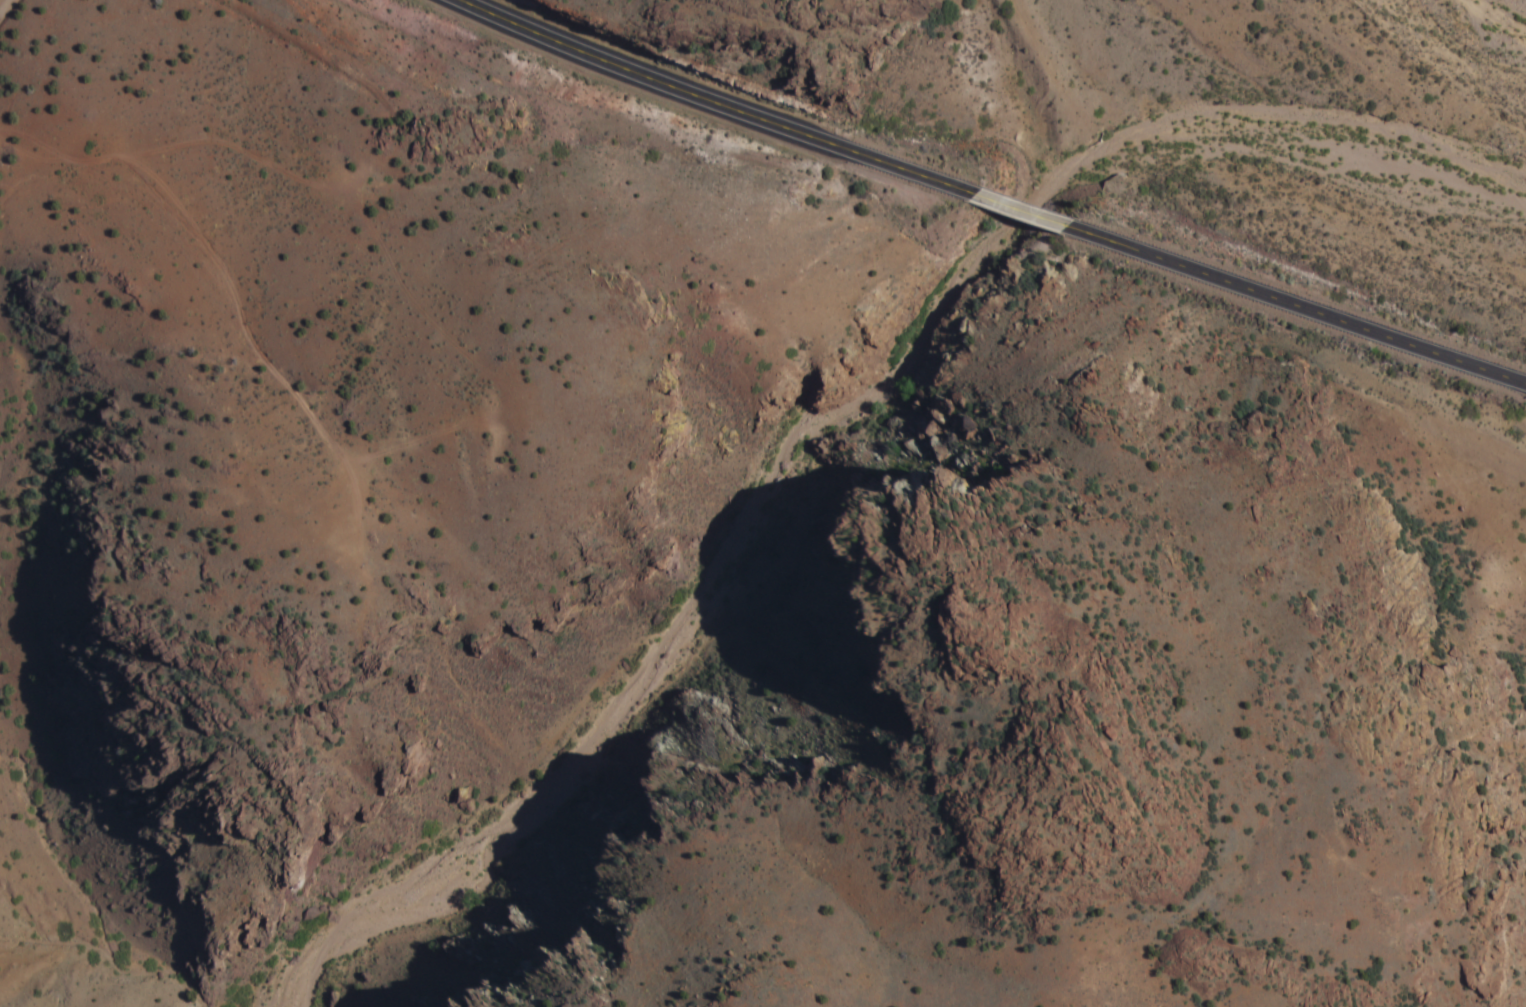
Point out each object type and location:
road: (8, 10)
road: (706, 103)
road: (1025, 210)
road: (407, 274)
road: (249, 305)
road: (1298, 306)

